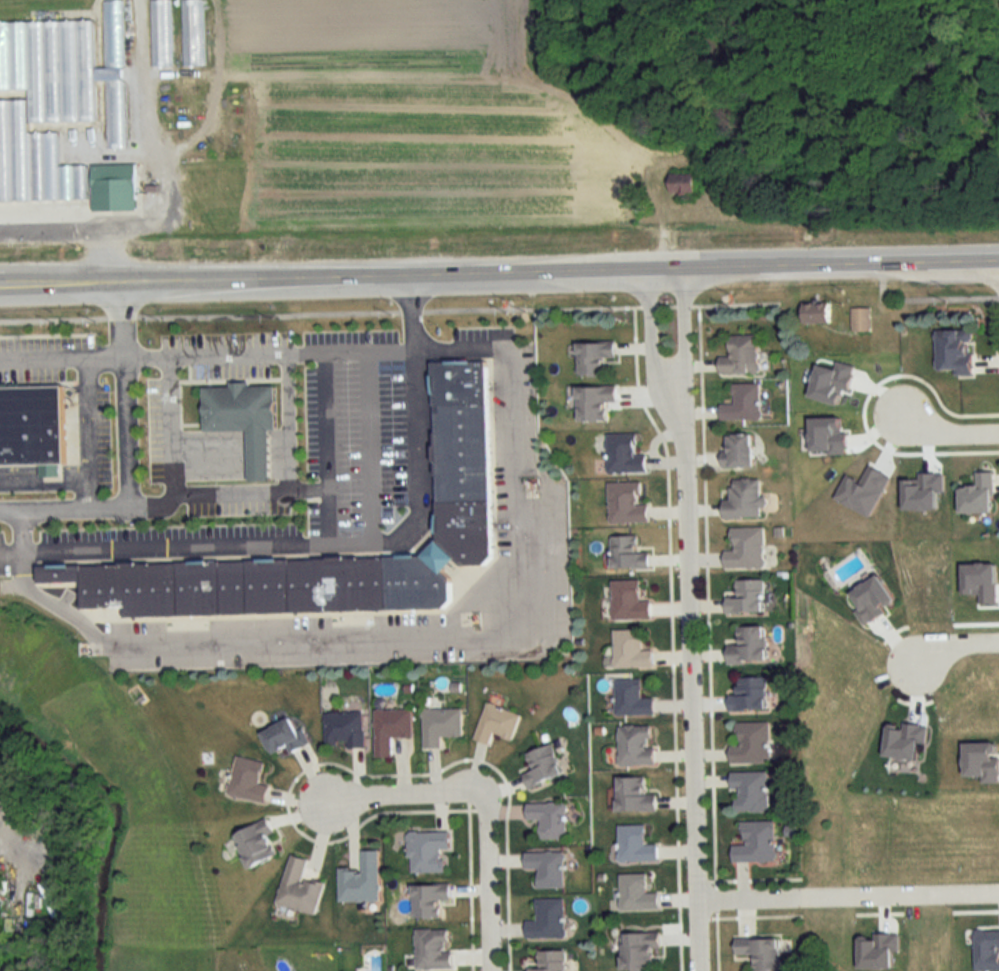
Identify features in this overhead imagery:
building: (161, 33)
building: (192, 33)
building: (55, 101)
crop: (417, 123)
building: (683, 184)
building: (113, 188)
road: (75, 225)
road: (499, 272)
road: (951, 295)
road: (390, 309)
building: (817, 312)
building: (860, 319)
road: (207, 351)
building: (956, 351)
road: (684, 353)
building: (741, 356)
building: (595, 357)
road: (651, 357)
road: (125, 391)
building: (595, 402)
road: (514, 404)
building: (743, 404)
building: (244, 415)
road: (290, 419)
building: (31, 423)
road: (172, 423)
road: (89, 427)
road: (948, 434)
road: (332, 442)
road: (374, 442)
building: (460, 448)
road: (232, 451)
building: (739, 451)
building: (624, 455)
road: (45, 479)
building: (980, 495)
road: (167, 497)
building: (744, 500)
building: (626, 503)
road: (22, 521)
road: (333, 535)
building: (746, 549)
building: (628, 553)
building: (747, 597)
building: (629, 601)
road: (256, 637)
road: (954, 644)
building: (749, 646)
building: (630, 650)
building: (749, 694)
building: (631, 699)
road: (696, 704)
building: (496, 723)
building: (440, 725)
building: (345, 729)
building: (391, 729)
building: (285, 736)
building: (751, 743)
building: (636, 746)
building: (542, 766)
building: (248, 780)
building: (749, 791)
road: (404, 795)
building: (634, 796)
building: (549, 819)
building: (756, 842)
building: (257, 843)
building: (636, 845)
building: (428, 851)
building: (547, 868)
building: (362, 881)
road: (487, 881)
building: (300, 888)
building: (637, 893)
road: (852, 897)
building: (429, 900)
building: (548, 919)
building: (434, 949)
building: (639, 950)
building: (987, 950)
building: (760, 952)
building: (550, 961)

